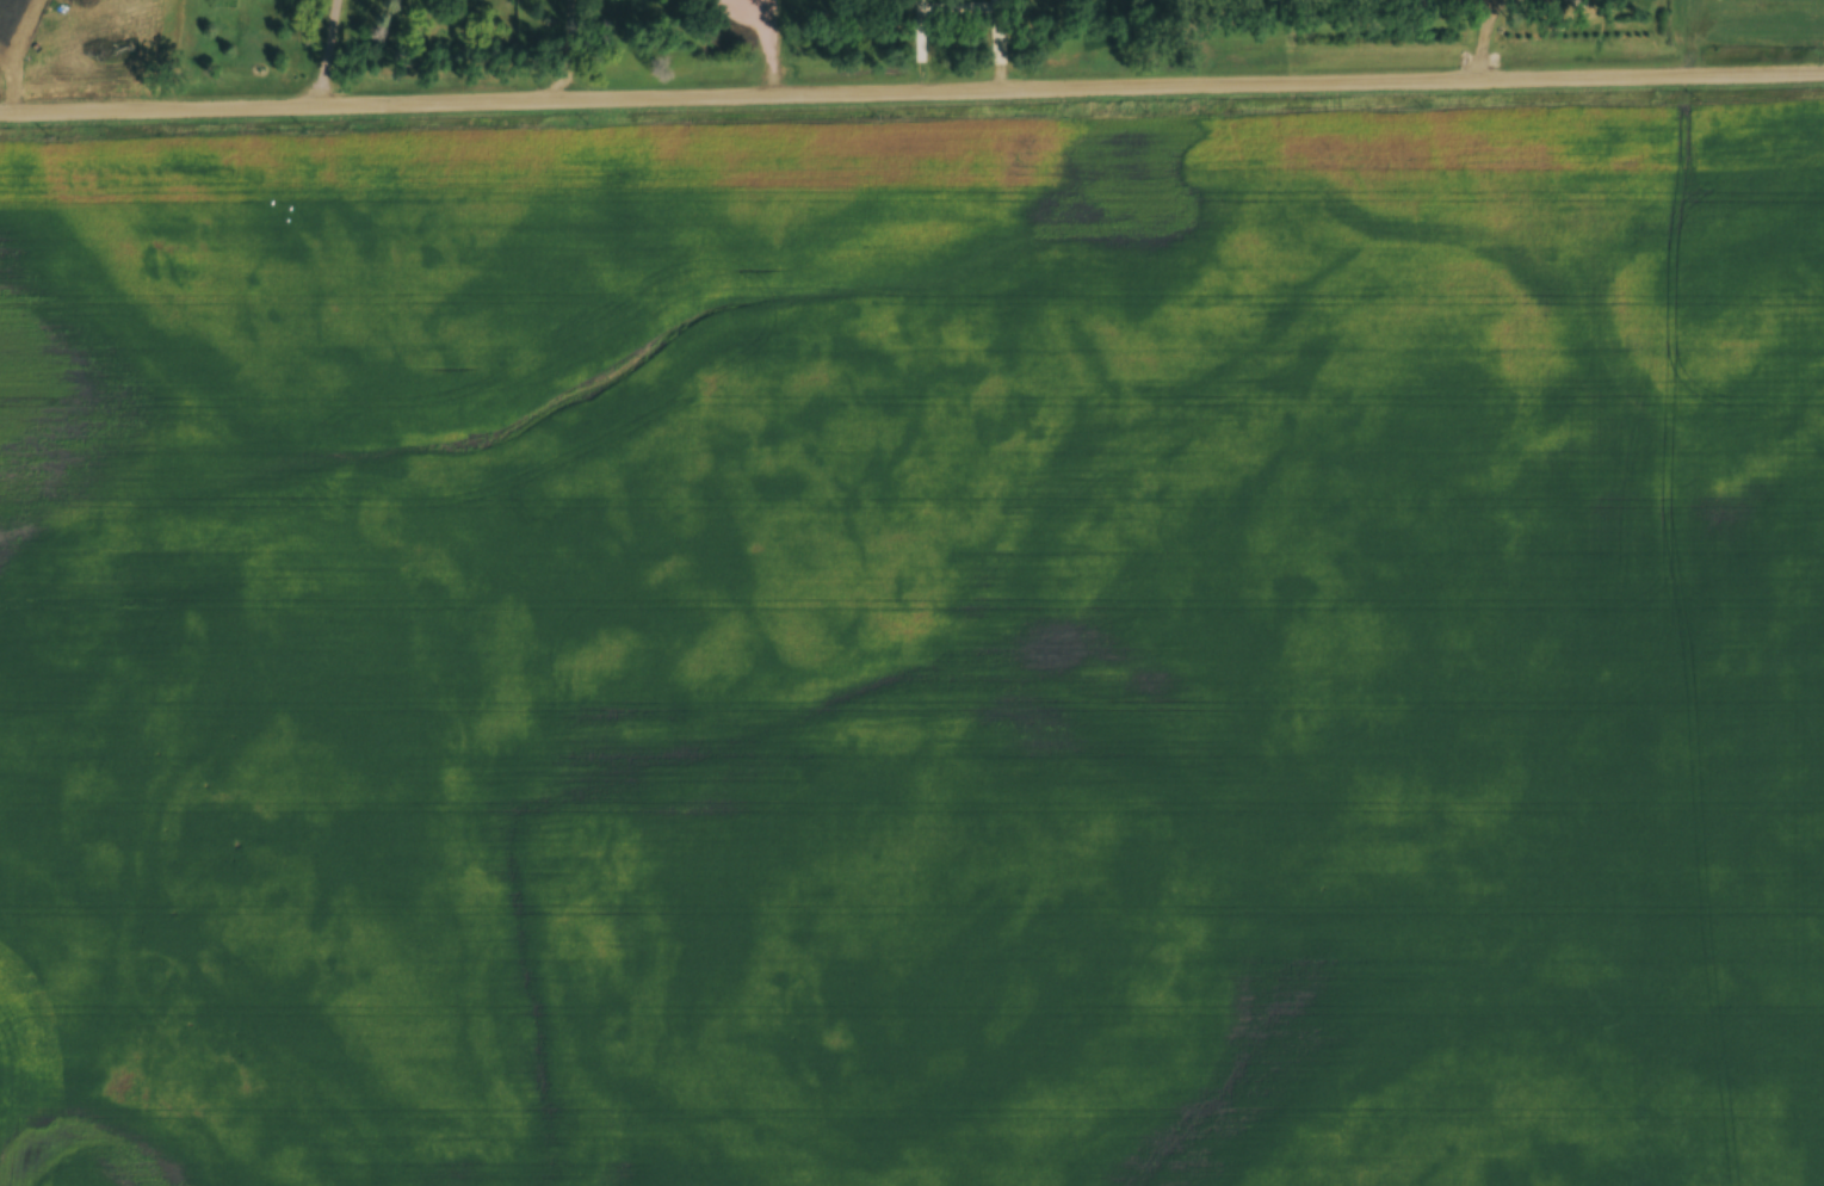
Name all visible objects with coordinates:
road: (564, 48)
road: (334, 50)
road: (911, 88)

